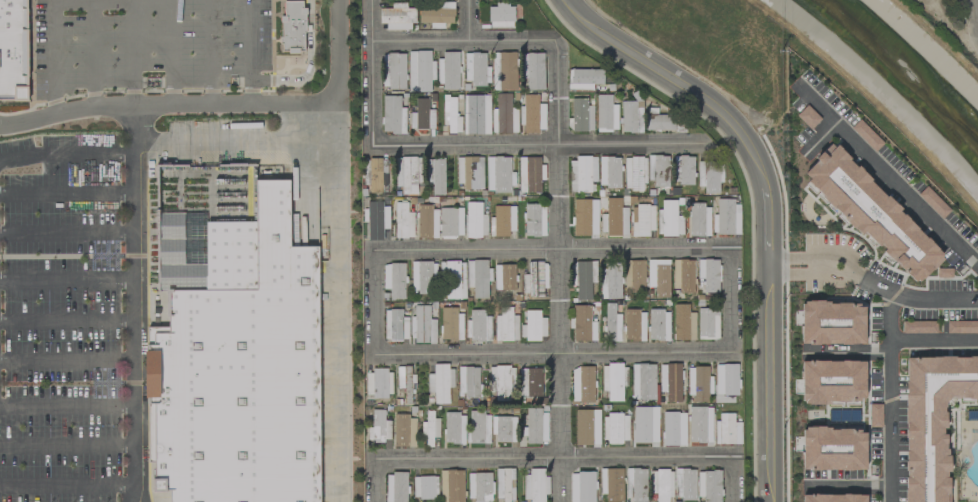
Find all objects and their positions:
building: (932, 1)
building: (436, 15)
building: (501, 16)
building: (397, 17)
road: (53, 18)
road: (468, 19)
road: (528, 19)
wastewater plant: (952, 23)
building: (292, 27)
road: (467, 38)
building: (14, 49)
road: (252, 51)
road: (134, 52)
road: (172, 52)
road: (214, 52)
building: (448, 70)
building: (476, 70)
building: (393, 71)
building: (420, 71)
building: (503, 71)
building: (533, 71)
road: (375, 72)
building: (584, 79)
road: (94, 84)
road: (166, 104)
building: (449, 111)
building: (530, 114)
building: (606, 114)
building: (392, 115)
building: (476, 115)
building: (504, 115)
building: (581, 115)
building: (422, 116)
building: (541, 116)
building: (631, 118)
building: (663, 121)
road: (818, 139)
road: (544, 145)
road: (235, 148)
road: (68, 156)
building: (658, 170)
building: (683, 170)
building: (609, 172)
building: (470, 173)
building: (582, 173)
building: (634, 173)
building: (407, 174)
building: (499, 174)
building: (530, 174)
building: (376, 175)
building: (435, 175)
road: (886, 175)
building: (708, 177)
road: (68, 190)
road: (762, 203)
building: (873, 214)
building: (583, 218)
building: (727, 218)
building: (614, 219)
building: (535, 220)
building: (699, 220)
building: (403, 221)
building: (475, 221)
building: (503, 221)
building: (642, 221)
building: (427, 222)
building: (450, 222)
road: (67, 233)
road: (553, 246)
road: (335, 250)
road: (561, 270)
building: (708, 275)
building: (634, 276)
building: (683, 276)
building: (422, 277)
building: (478, 277)
building: (504, 277)
building: (658, 277)
building: (535, 279)
building: (583, 279)
building: (394, 280)
building: (453, 280)
building: (610, 280)
road: (67, 281)
road: (870, 283)
road: (375, 298)
road: (732, 300)
road: (135, 304)
parking lot: (62, 318)
road: (67, 321)
building: (451, 323)
building: (683, 323)
building: (832, 323)
building: (583, 324)
building: (612, 324)
building: (708, 324)
building: (478, 325)
building: (506, 325)
building: (635, 325)
building: (659, 325)
building: (423, 326)
building: (533, 326)
building: (954, 326)
road: (934, 341)
building: (227, 342)
road: (845, 352)
road: (554, 354)
road: (67, 363)
building: (468, 381)
building: (612, 381)
building: (833, 381)
building: (501, 382)
building: (530, 382)
building: (643, 382)
building: (377, 383)
building: (406, 383)
building: (440, 383)
building: (582, 384)
building: (699, 384)
road: (890, 396)
road: (67, 407)
building: (932, 420)
building: (700, 425)
building: (536, 426)
building: (642, 426)
building: (675, 426)
building: (479, 427)
building: (379, 428)
building: (454, 428)
building: (615, 428)
building: (430, 429)
building: (504, 429)
building: (727, 429)
building: (404, 431)
road: (67, 444)
building: (833, 449)
road: (555, 456)
road: (736, 479)
road: (375, 480)
building: (504, 484)
building: (611, 484)
building: (684, 484)
building: (635, 485)
building: (661, 485)
building: (451, 486)
building: (709, 486)
building: (396, 487)
building: (425, 487)
building: (479, 487)
road: (846, 487)
road: (67, 489)
building: (833, 498)

